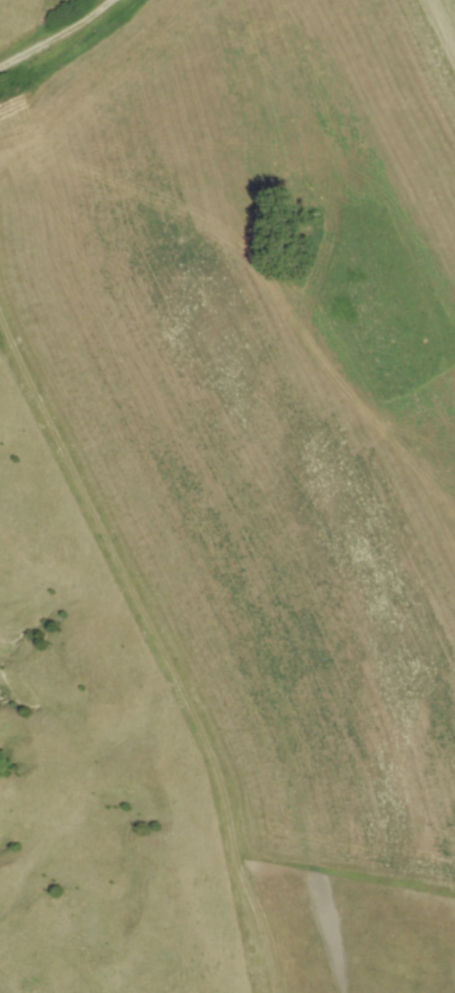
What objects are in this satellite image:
road: (56, 35)

